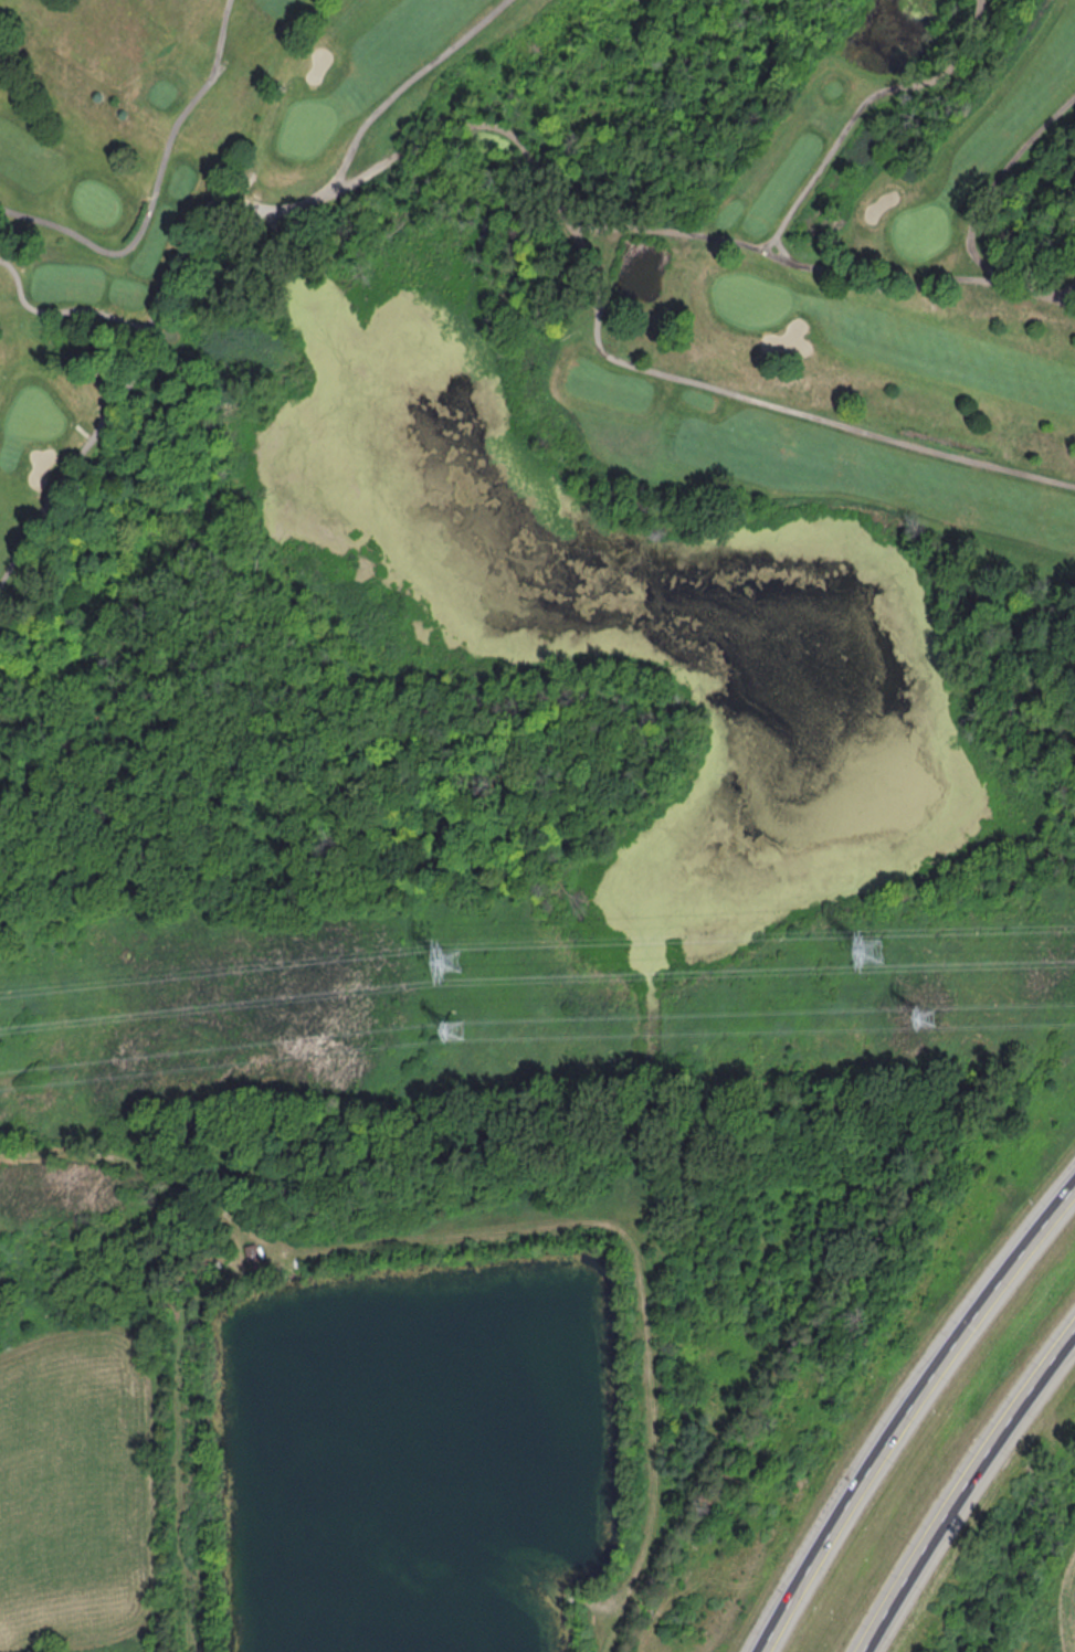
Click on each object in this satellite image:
road: (413, 83)
road: (992, 188)
road: (794, 206)
road: (148, 215)
road: (678, 234)
road: (583, 248)
park: (533, 279)
road: (1042, 294)
road: (1058, 300)
road: (61, 314)
road: (77, 456)
power tower: (872, 949)
power tower: (450, 960)
power tower: (926, 1017)
power tower: (454, 1028)
road: (910, 1412)
road: (967, 1486)

